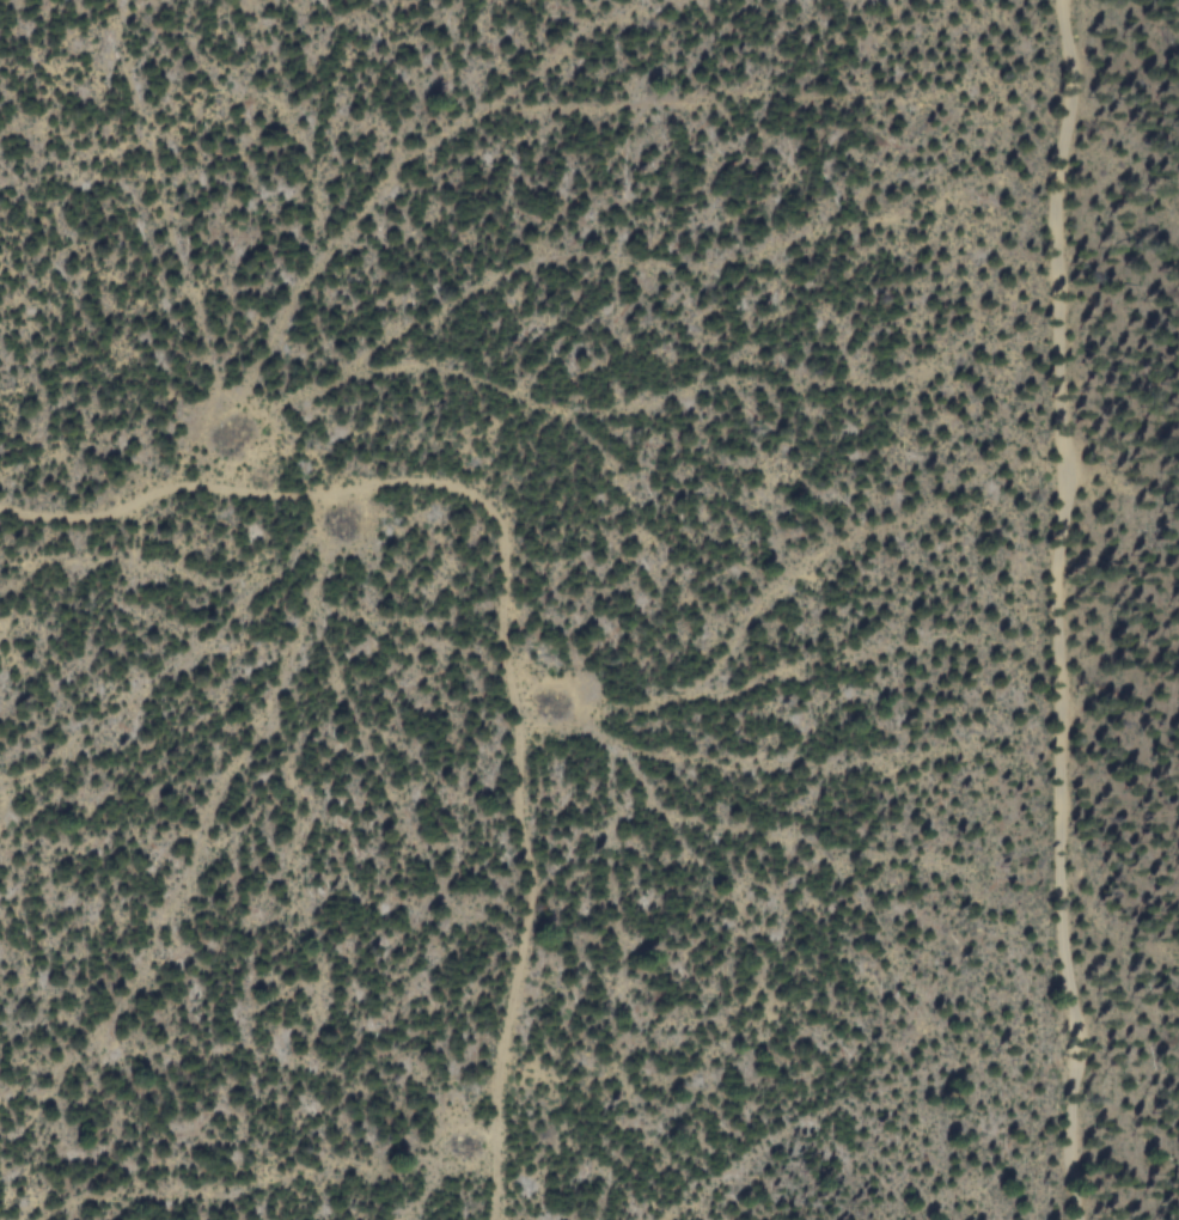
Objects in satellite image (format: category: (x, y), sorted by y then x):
road: (1058, 610)
road: (511, 615)

